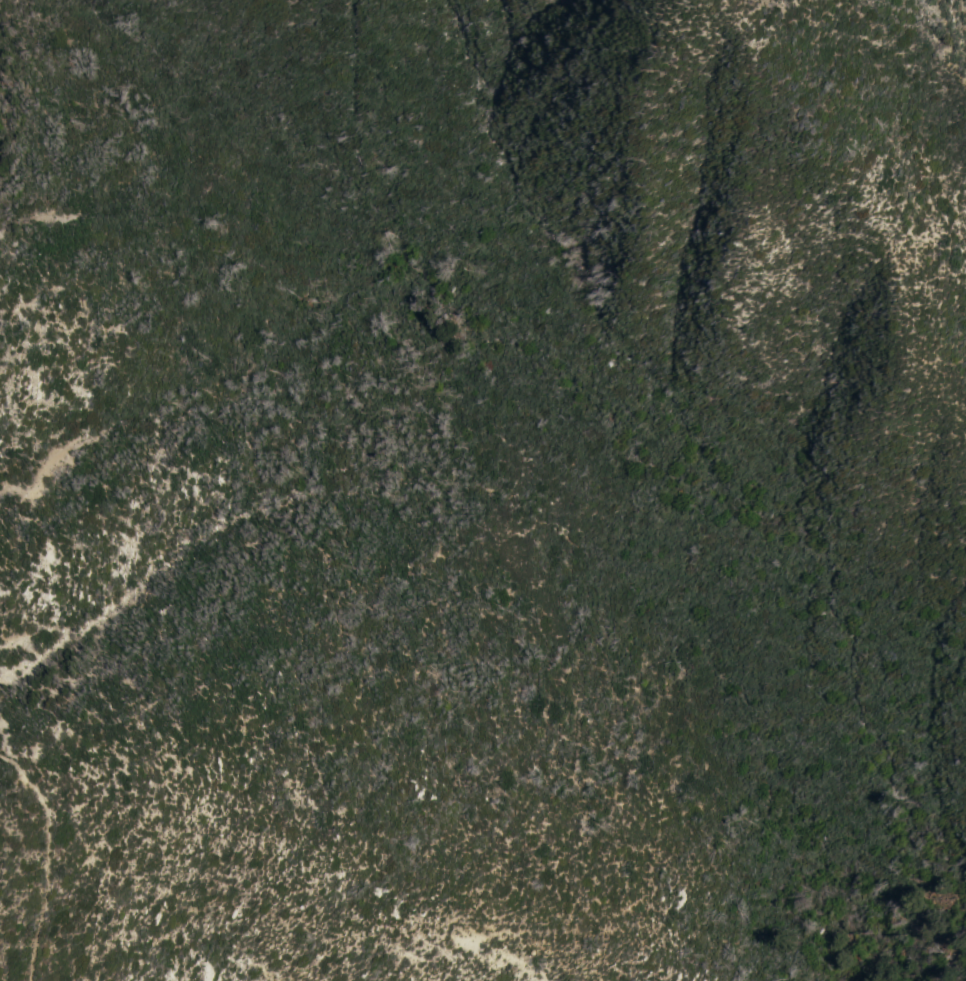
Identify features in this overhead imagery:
road: (43, 860)

